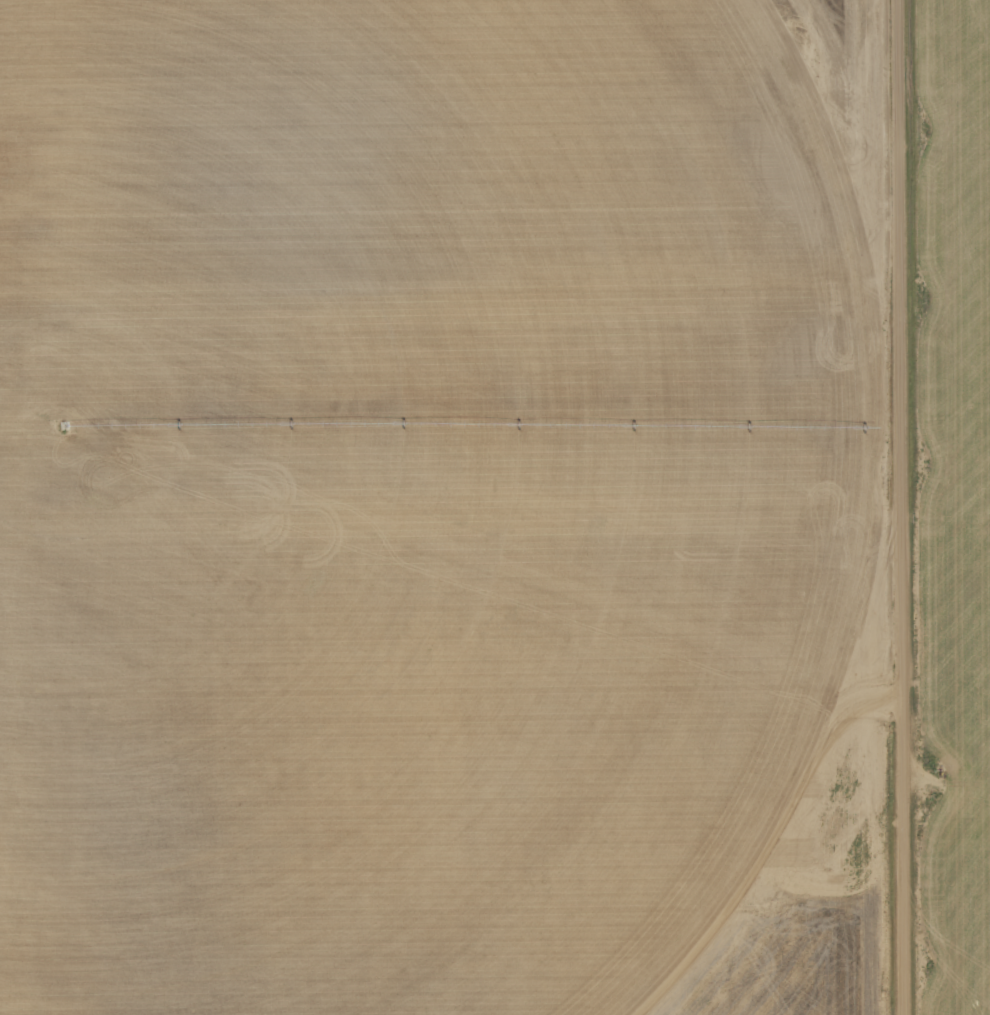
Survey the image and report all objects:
road: (451, 271)
crop: (375, 497)
road: (901, 507)

